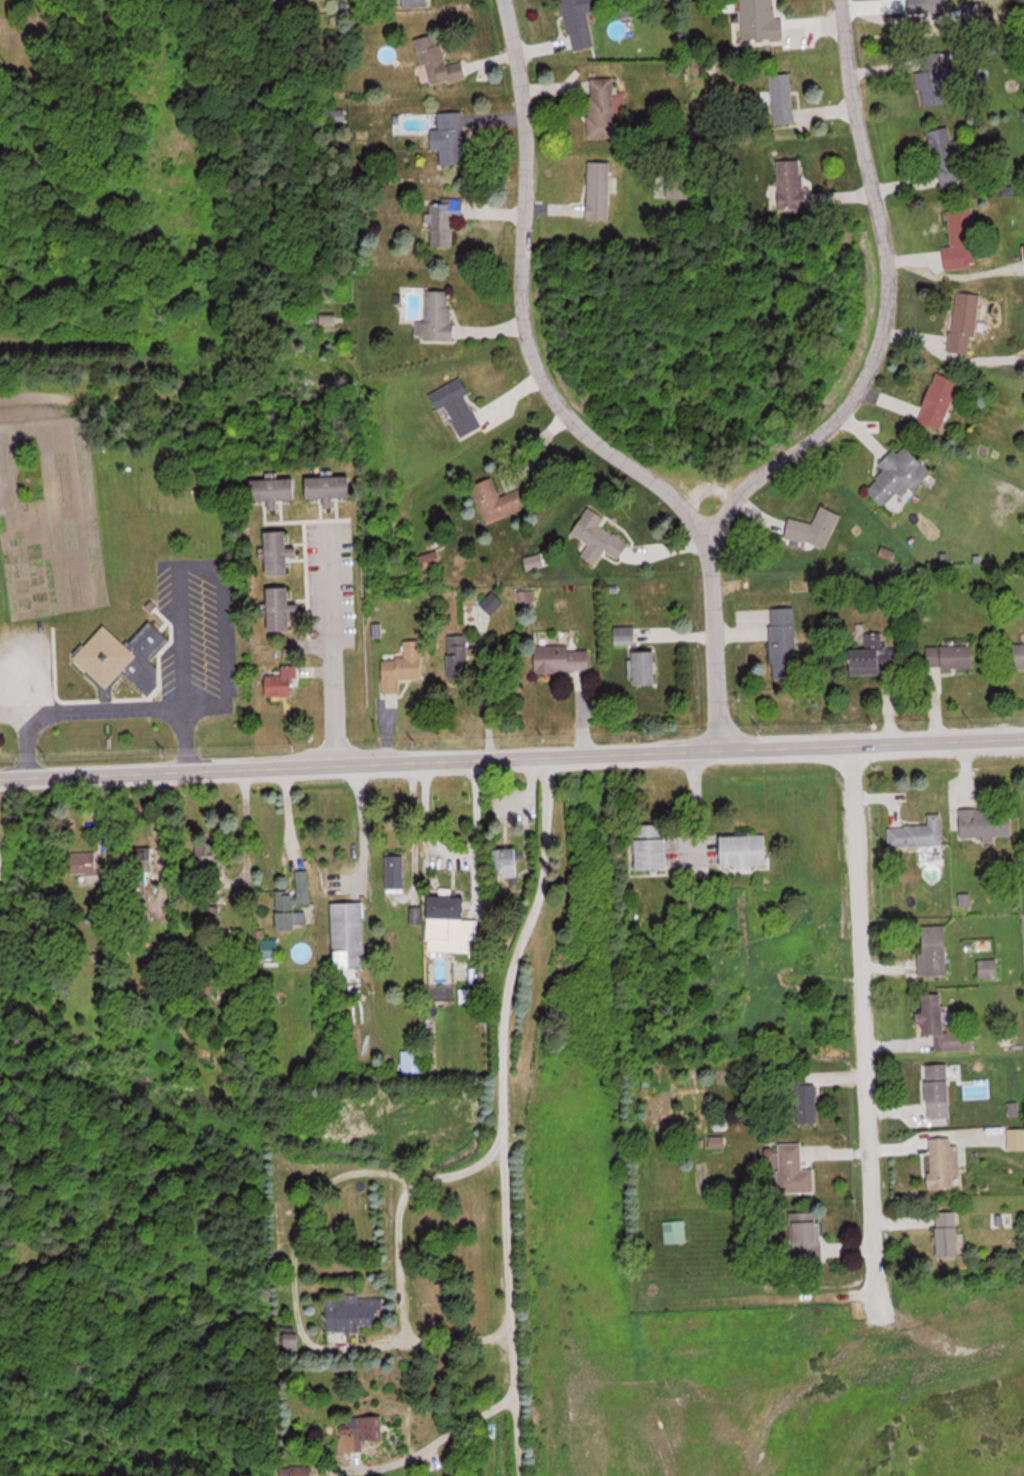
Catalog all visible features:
building: (416, 2)
building: (761, 20)
building: (578, 23)
building: (439, 61)
building: (935, 78)
building: (783, 98)
building: (603, 106)
building: (450, 137)
building: (948, 155)
building: (792, 183)
building: (678, 185)
building: (600, 189)
building: (445, 219)
building: (962, 239)
road: (879, 299)
building: (437, 316)
building: (965, 320)
road: (554, 401)
building: (939, 401)
building: (458, 406)
road: (693, 472)
building: (899, 475)
building: (330, 487)
building: (274, 489)
building: (499, 500)
building: (814, 528)
building: (599, 537)
building: (280, 551)
building: (428, 559)
building: (151, 605)
building: (281, 608)
building: (625, 635)
road: (332, 641)
building: (784, 642)
building: (459, 654)
building: (1016, 655)
building: (952, 656)
building: (123, 658)
building: (562, 659)
building: (874, 660)
building: (404, 666)
building: (647, 668)
building: (284, 682)
road: (512, 754)
building: (987, 822)
building: (918, 834)
building: (652, 847)
building: (744, 851)
building: (86, 863)
building: (507, 863)
building: (144, 864)
building: (396, 873)
building: (293, 903)
building: (450, 925)
road: (532, 928)
building: (349, 937)
building: (269, 947)
building: (934, 950)
building: (989, 968)
road: (859, 1005)
building: (942, 1025)
building: (414, 1062)
building: (938, 1091)
building: (804, 1100)
building: (1016, 1139)
building: (944, 1161)
building: (794, 1170)
building: (675, 1231)
building: (948, 1233)
building: (807, 1236)
road: (513, 1287)
building: (352, 1312)
building: (360, 1431)

